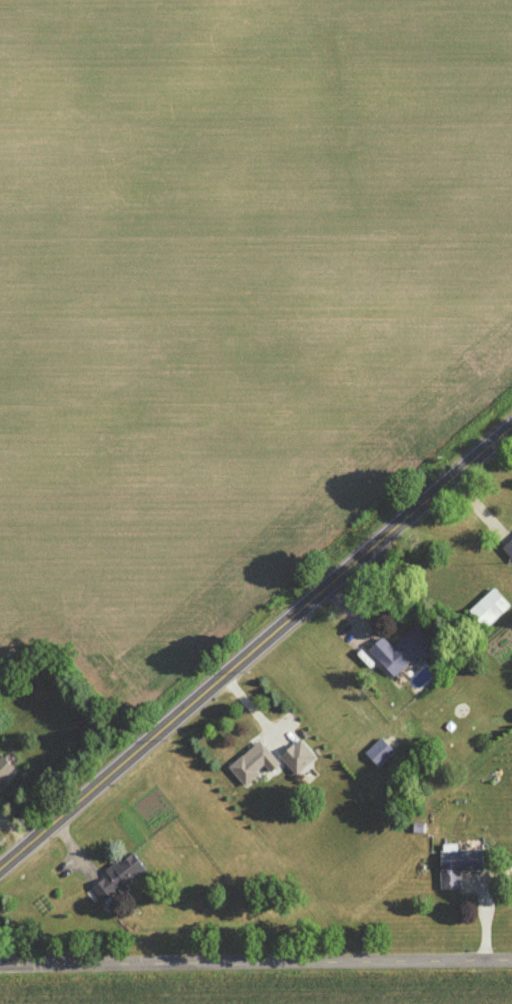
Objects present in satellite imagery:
building: (507, 552)
building: (487, 612)
road: (256, 641)
building: (398, 655)
building: (296, 760)
building: (252, 767)
building: (4, 771)
building: (456, 869)
building: (116, 882)
road: (256, 957)

